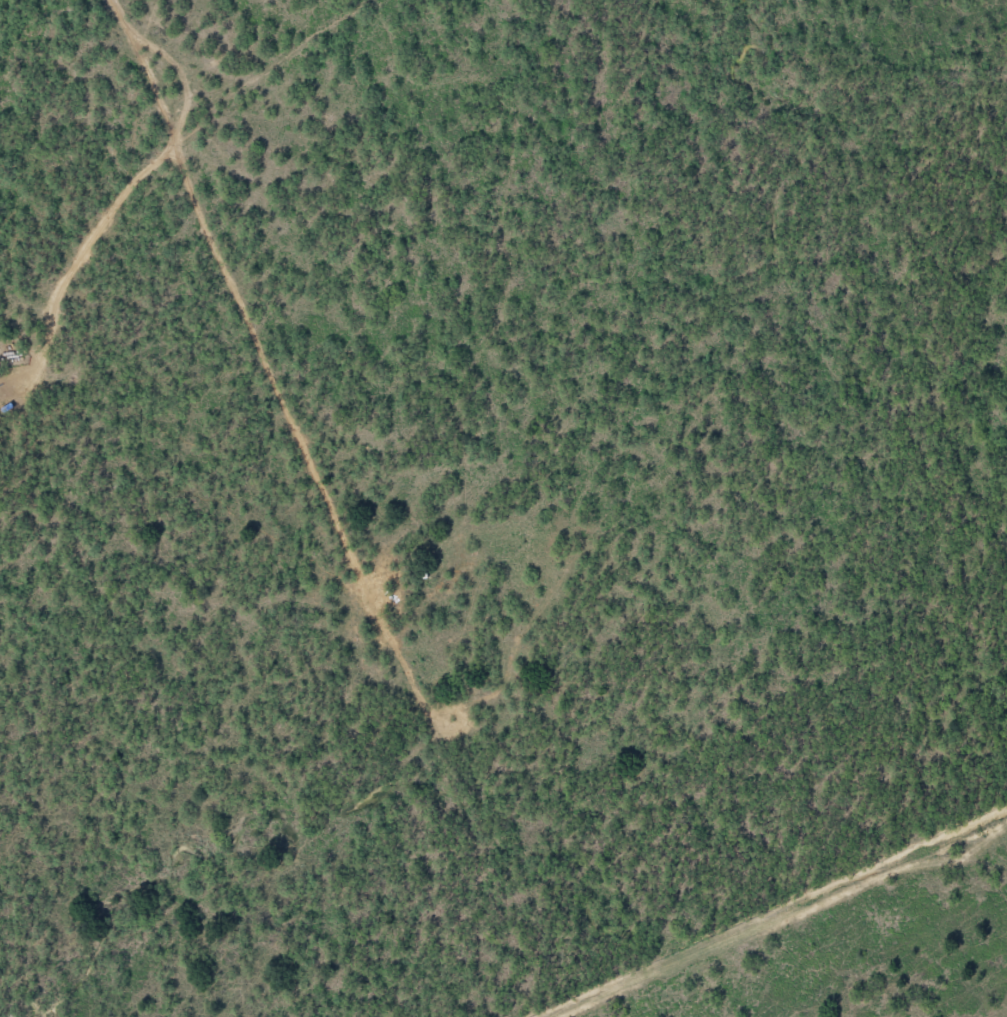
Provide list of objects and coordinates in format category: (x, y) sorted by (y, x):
road: (1004, 2)

